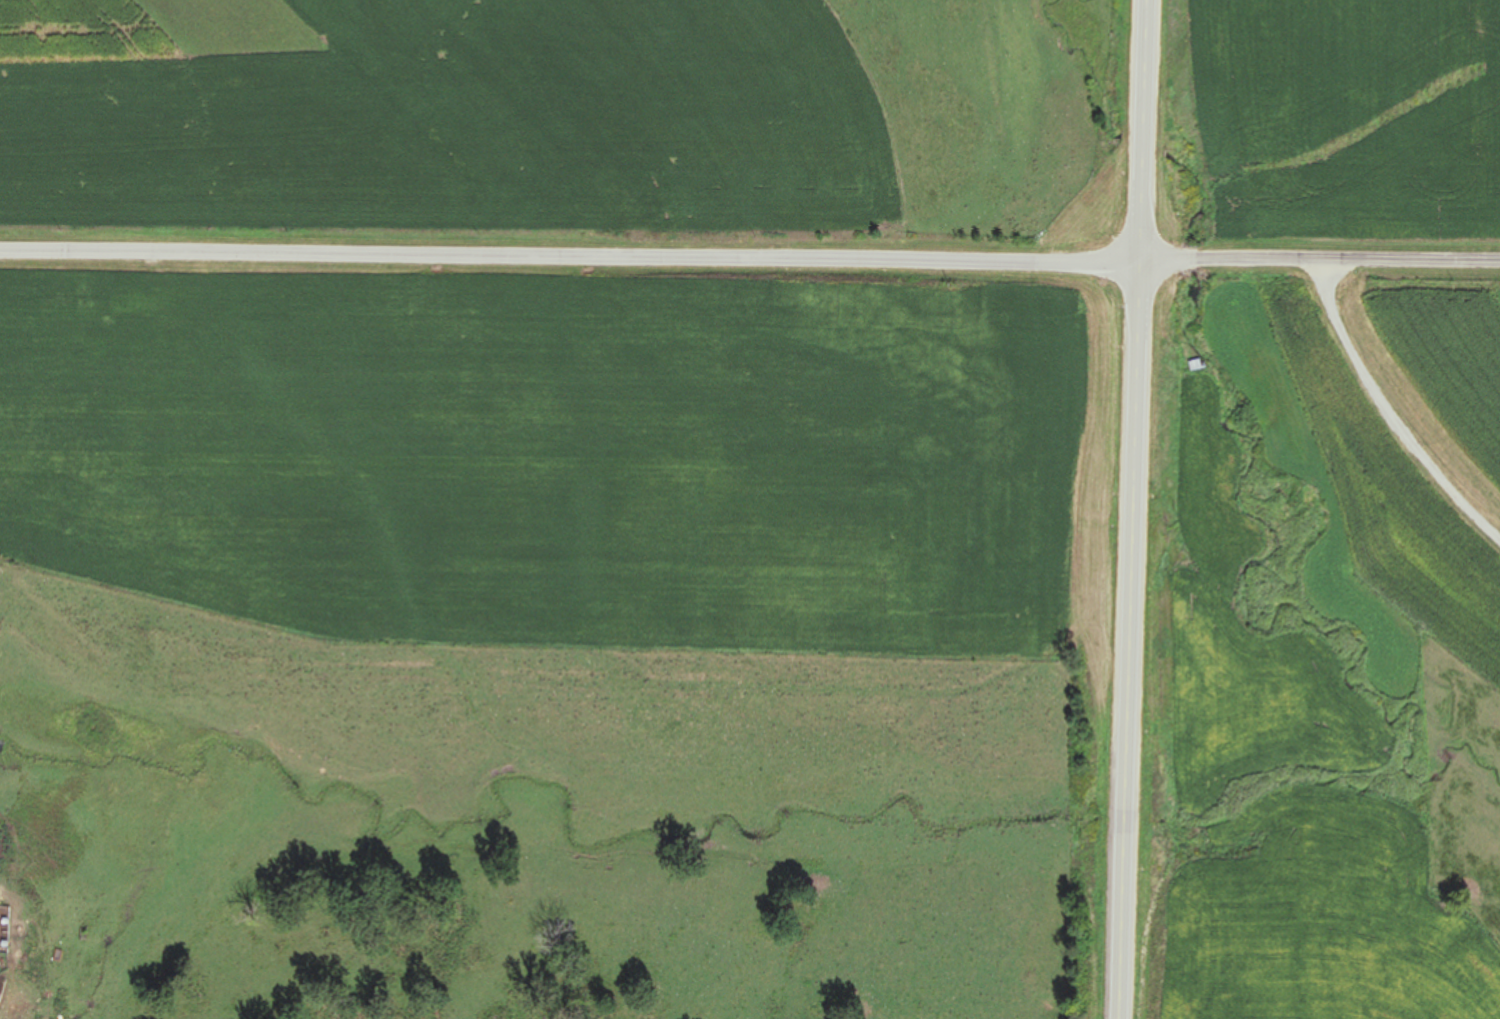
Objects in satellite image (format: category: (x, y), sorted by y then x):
road: (749, 258)
road: (1133, 509)

